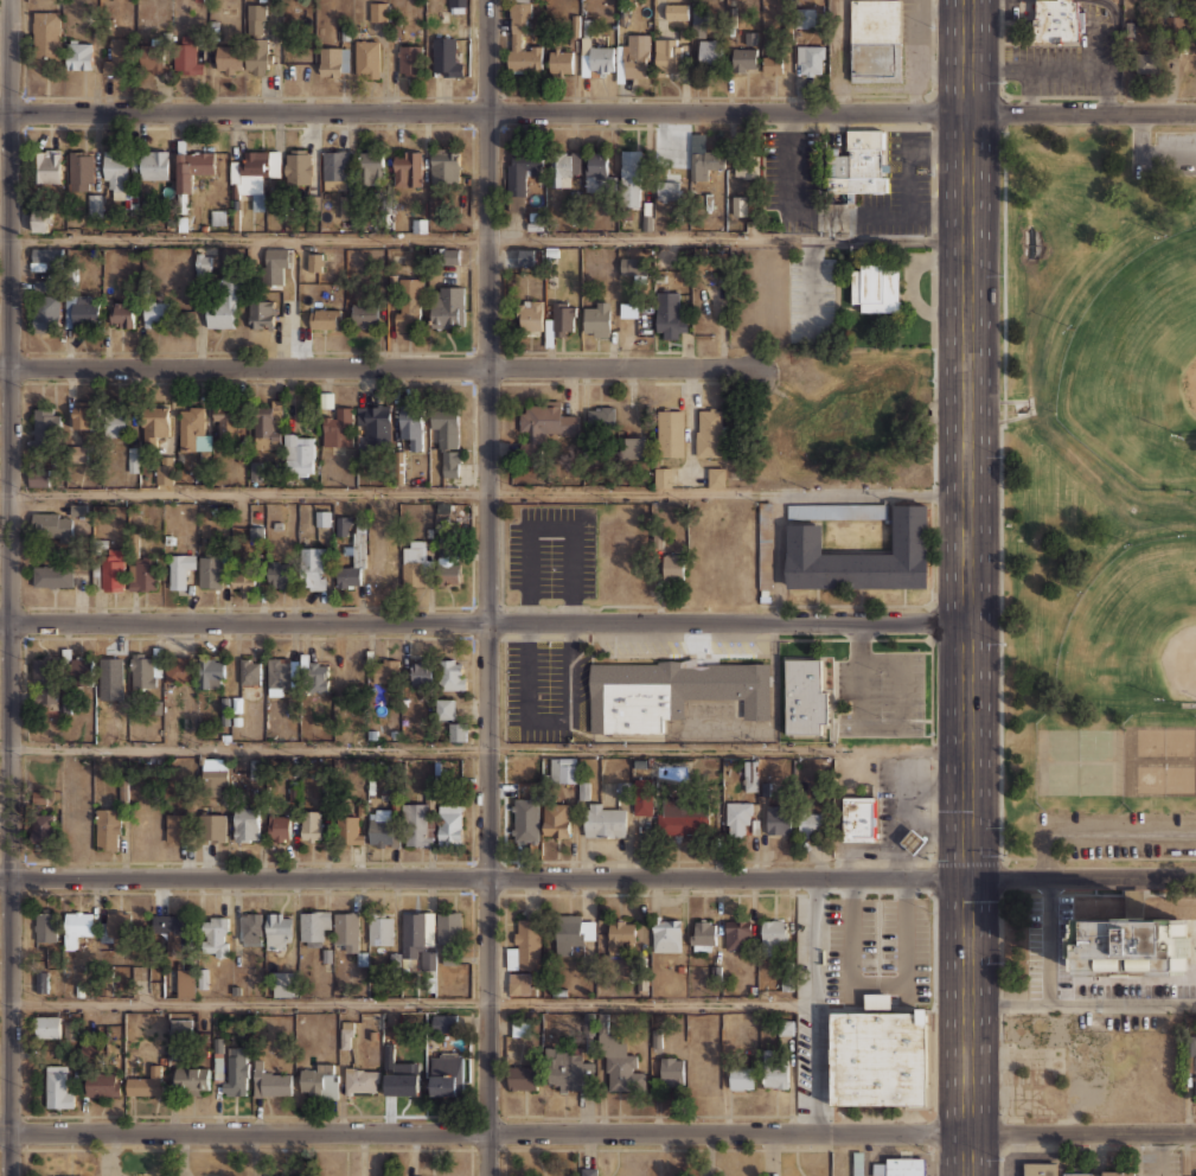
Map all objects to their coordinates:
building: (456, 6)
building: (378, 11)
building: (677, 12)
building: (805, 17)
building: (875, 21)
building: (1056, 21)
building: (45, 36)
building: (257, 38)
building: (513, 39)
building: (709, 51)
building: (666, 53)
building: (79, 55)
building: (116, 56)
building: (446, 56)
building: (633, 56)
building: (366, 57)
building: (154, 58)
building: (187, 58)
building: (228, 58)
building: (410, 58)
building: (601, 58)
building: (334, 59)
building: (561, 59)
building: (744, 59)
building: (810, 59)
building: (872, 62)
building: (772, 63)
building: (1149, 63)
road: (597, 113)
parking lot: (1165, 153)
road: (1145, 159)
building: (705, 161)
building: (856, 162)
building: (154, 164)
building: (565, 164)
building: (47, 166)
building: (298, 166)
building: (371, 166)
building: (443, 166)
building: (747, 166)
building: (192, 167)
building: (408, 167)
building: (337, 168)
building: (81, 170)
building: (115, 170)
building: (596, 170)
building: (520, 172)
building: (254, 175)
building: (631, 178)
road: (908, 180)
building: (669, 190)
building: (516, 203)
building: (92, 204)
building: (738, 205)
building: (348, 207)
road: (800, 213)
building: (40, 218)
road: (484, 238)
building: (529, 255)
building: (448, 256)
building: (44, 257)
building: (315, 261)
building: (203, 264)
building: (275, 264)
building: (632, 264)
building: (874, 287)
building: (225, 302)
building: (409, 302)
building: (448, 307)
building: (81, 309)
building: (326, 309)
building: (46, 312)
building: (164, 313)
building: (262, 313)
building: (364, 313)
building: (122, 314)
building: (669, 314)
building: (529, 315)
building: (595, 318)
building: (561, 319)
park: (1136, 346)
road: (376, 367)
building: (84, 414)
building: (601, 418)
building: (225, 421)
building: (116, 423)
building: (154, 423)
building: (372, 423)
building: (411, 423)
building: (544, 423)
building: (267, 426)
building: (45, 427)
building: (339, 427)
building: (446, 427)
building: (192, 428)
building: (670, 432)
building: (708, 432)
building: (633, 446)
building: (299, 452)
building: (78, 453)
building: (133, 459)
building: (450, 464)
building: (165, 469)
building: (260, 469)
building: (40, 475)
building: (661, 475)
building: (716, 475)
road: (484, 493)
park: (1096, 494)
building: (78, 510)
building: (837, 510)
building: (322, 518)
building: (52, 524)
building: (343, 525)
road: (550, 526)
building: (256, 533)
building: (765, 544)
parking lot: (551, 550)
building: (861, 556)
building: (415, 562)
building: (353, 563)
building: (384, 564)
building: (672, 564)
building: (179, 567)
building: (315, 568)
building: (113, 569)
building: (211, 570)
building: (143, 571)
building: (449, 571)
building: (277, 574)
building: (52, 575)
building: (244, 577)
road: (9, 587)
road: (968, 587)
road: (487, 588)
road: (484, 625)
park: (1133, 627)
building: (179, 669)
building: (81, 670)
building: (145, 670)
building: (249, 670)
building: (351, 670)
building: (386, 670)
building: (211, 672)
building: (420, 672)
building: (453, 673)
building: (282, 675)
building: (315, 676)
building: (45, 679)
building: (670, 691)
parking lot: (880, 692)
building: (804, 696)
building: (446, 708)
building: (458, 730)
road: (484, 748)
building: (257, 768)
building: (514, 769)
building: (563, 769)
building: (213, 774)
building: (750, 775)
building: (623, 791)
building: (683, 816)
building: (737, 817)
building: (778, 818)
building: (858, 818)
building: (556, 819)
building: (603, 819)
building: (522, 820)
building: (812, 822)
building: (418, 823)
building: (245, 824)
building: (311, 824)
building: (450, 824)
building: (174, 826)
building: (215, 826)
building: (279, 826)
building: (43, 829)
building: (108, 829)
building: (350, 829)
building: (380, 829)
road: (1096, 831)
parking lot: (1118, 832)
building: (912, 841)
gas station: (912, 841)
road: (597, 878)
building: (44, 925)
building: (76, 926)
building: (116, 926)
building: (314, 926)
building: (448, 926)
building: (250, 927)
building: (380, 928)
building: (279, 929)
building: (172, 931)
building: (346, 931)
building: (573, 931)
building: (416, 932)
building: (704, 932)
building: (773, 933)
building: (619, 934)
building: (215, 935)
building: (666, 935)
building: (737, 935)
parking lot: (850, 939)
parking lot: (906, 939)
road: (1045, 941)
building: (524, 945)
building: (1132, 945)
building: (41, 982)
building: (518, 982)
building: (186, 983)
building: (284, 983)
road: (407, 1001)
road: (813, 1005)
road: (1082, 1005)
building: (444, 1022)
building: (49, 1025)
building: (180, 1025)
building: (520, 1025)
building: (786, 1025)
building: (346, 1034)
building: (90, 1048)
building: (877, 1055)
building: (620, 1062)
building: (565, 1068)
building: (236, 1069)
building: (671, 1070)
building: (774, 1070)
building: (447, 1073)
building: (522, 1076)
building: (1195, 1076)
building: (741, 1078)
building: (192, 1080)
building: (269, 1080)
building: (319, 1080)
building: (360, 1080)
building: (401, 1081)
building: (146, 1082)
building: (103, 1084)
building: (58, 1086)
road: (597, 1132)
building: (858, 1163)
building: (900, 1167)
building: (1040, 1169)
building: (589, 1171)
building: (1102, 1172)
building: (1191, 1174)
building: (70, 1175)
building: (284, 1175)

